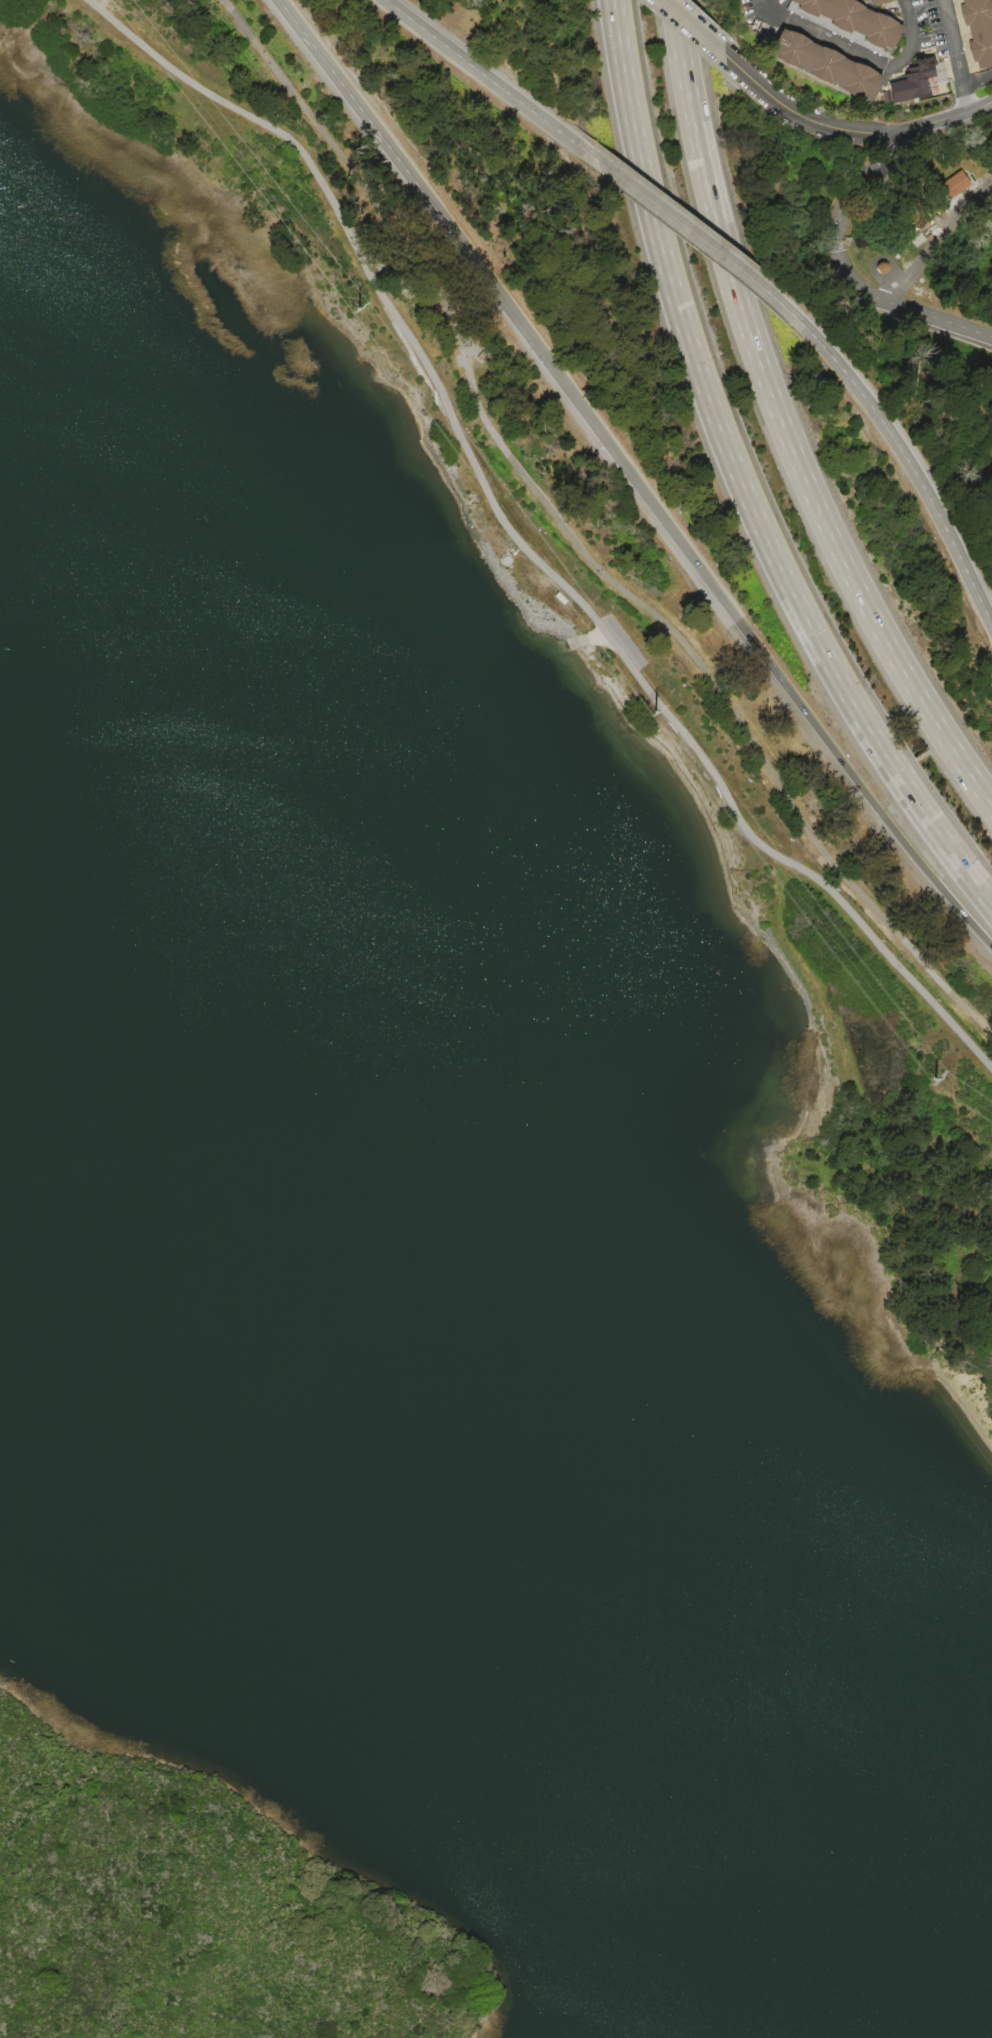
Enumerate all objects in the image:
building: (875, 2)
road: (290, 17)
building: (845, 22)
road: (692, 27)
building: (975, 31)
road: (823, 38)
road: (910, 38)
road: (954, 43)
building: (817, 64)
road: (483, 75)
building: (912, 80)
road: (978, 82)
road: (965, 101)
road: (249, 116)
road: (806, 118)
road: (952, 118)
road: (378, 133)
road: (862, 177)
building: (953, 184)
road: (694, 236)
road: (932, 237)
road: (898, 305)
power tower: (357, 307)
road: (780, 424)
wastewater plant: (959, 424)
road: (911, 468)
road: (738, 479)
road: (574, 543)
road: (717, 594)
road: (580, 641)
road: (651, 693)
power tower: (654, 710)
power tower: (933, 1077)

